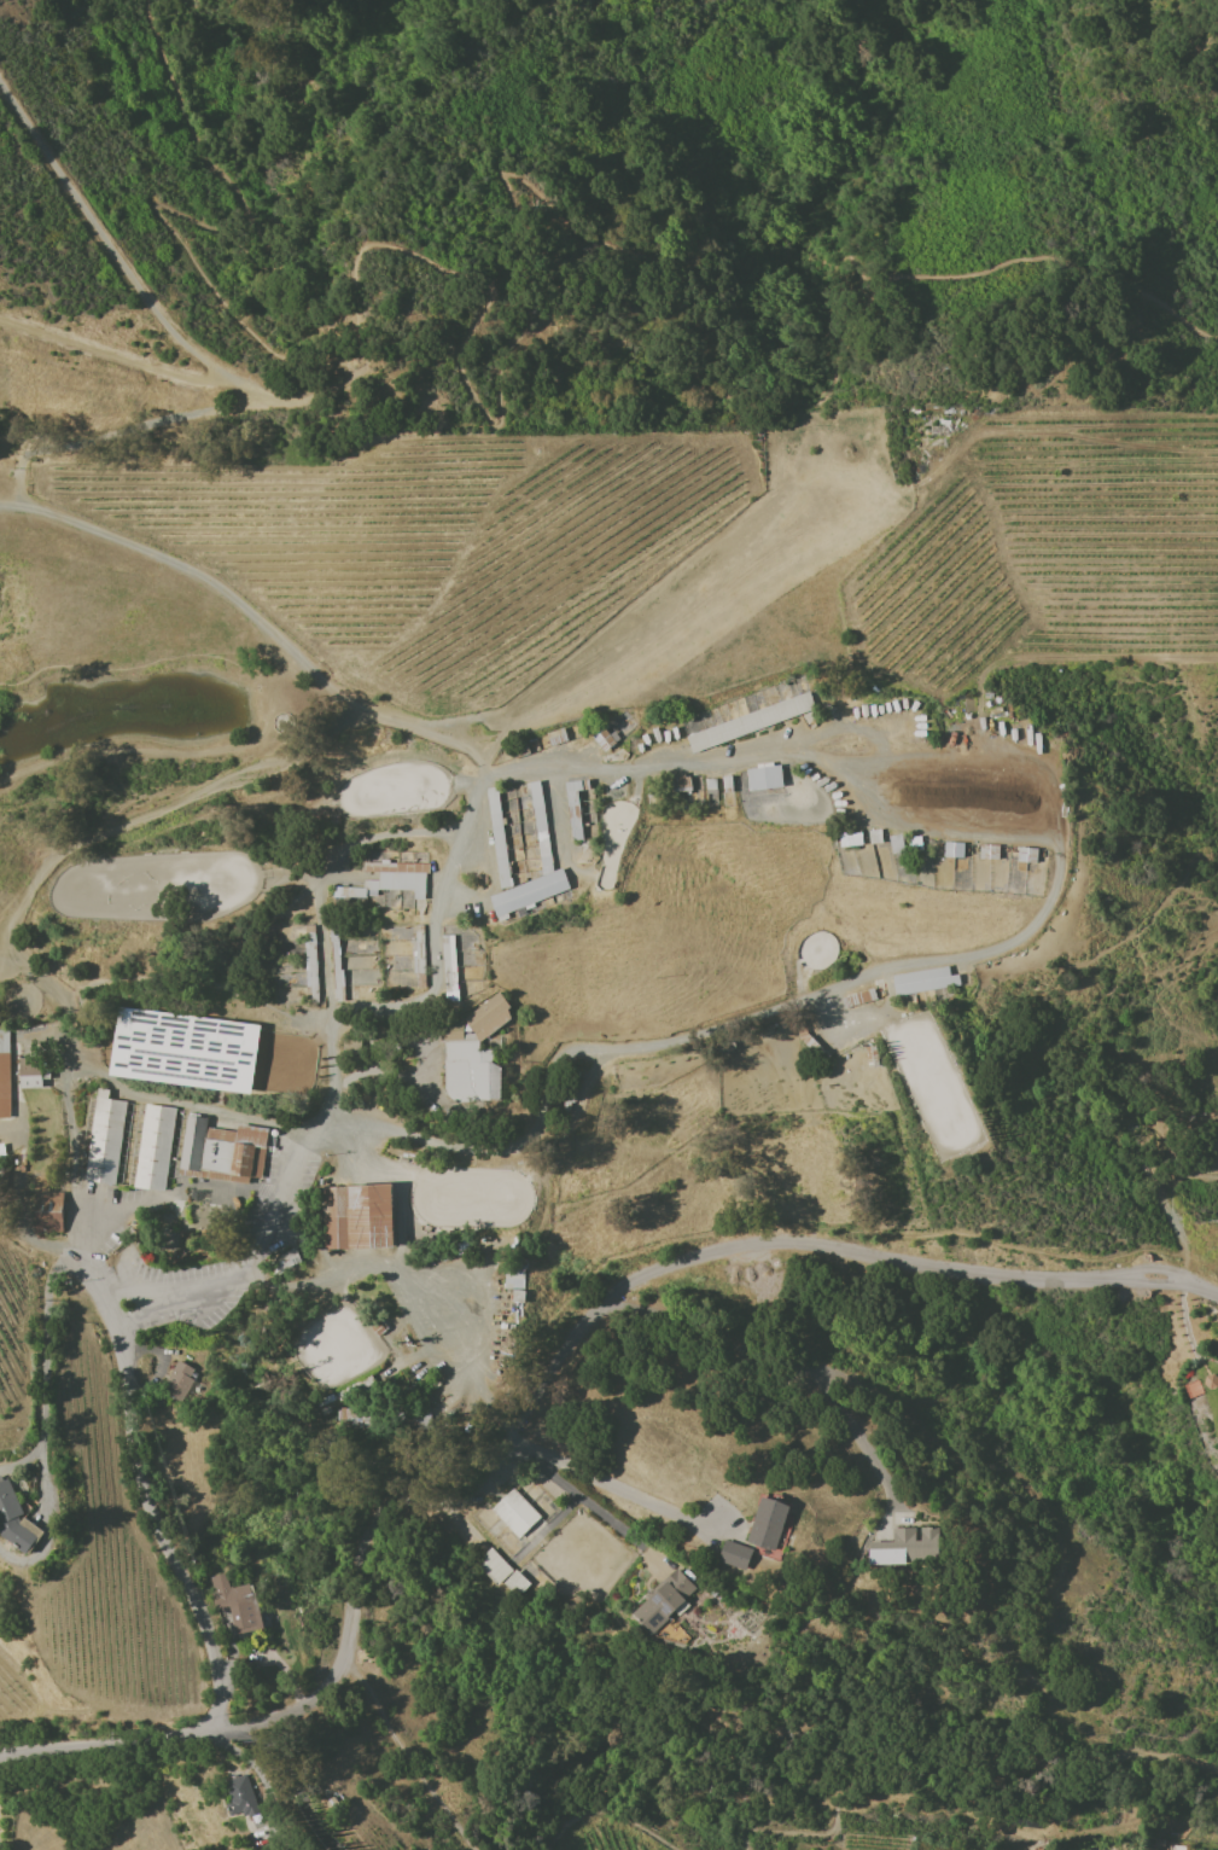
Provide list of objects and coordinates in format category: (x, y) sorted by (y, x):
road: (212, 231)
road: (587, 231)
road: (105, 239)
road: (116, 356)
road: (246, 388)
road: (310, 397)
road: (244, 406)
road: (159, 420)
road: (30, 452)
road: (8, 507)
road: (245, 612)
building: (750, 722)
road: (980, 757)
road: (482, 778)
building: (763, 778)
building: (517, 836)
building: (954, 849)
park: (152, 889)
building: (526, 894)
road: (322, 921)
road: (973, 955)
road: (430, 956)
building: (922, 981)
building: (488, 1017)
building: (2, 1042)
park: (206, 1054)
building: (467, 1066)
building: (34, 1067)
building: (4, 1087)
road: (64, 1096)
road: (187, 1105)
building: (103, 1139)
building: (181, 1139)
building: (153, 1147)
park: (502, 1200)
road: (123, 1208)
building: (47, 1212)
road: (1167, 1215)
road: (33, 1234)
road: (253, 1258)
road: (92, 1269)
road: (355, 1272)
road: (454, 1342)
road: (781, 1355)
road: (43, 1377)
building: (177, 1380)
building: (1210, 1380)
road: (537, 1389)
road: (606, 1482)
road: (594, 1506)
building: (518, 1516)
building: (13, 1518)
road: (151, 1518)
building: (767, 1524)
building: (903, 1544)
building: (734, 1554)
road: (1071, 1569)
building: (664, 1600)
building: (235, 1604)
road: (666, 1749)
road: (406, 1750)
road: (285, 1770)
road: (260, 1775)
road: (598, 1804)

